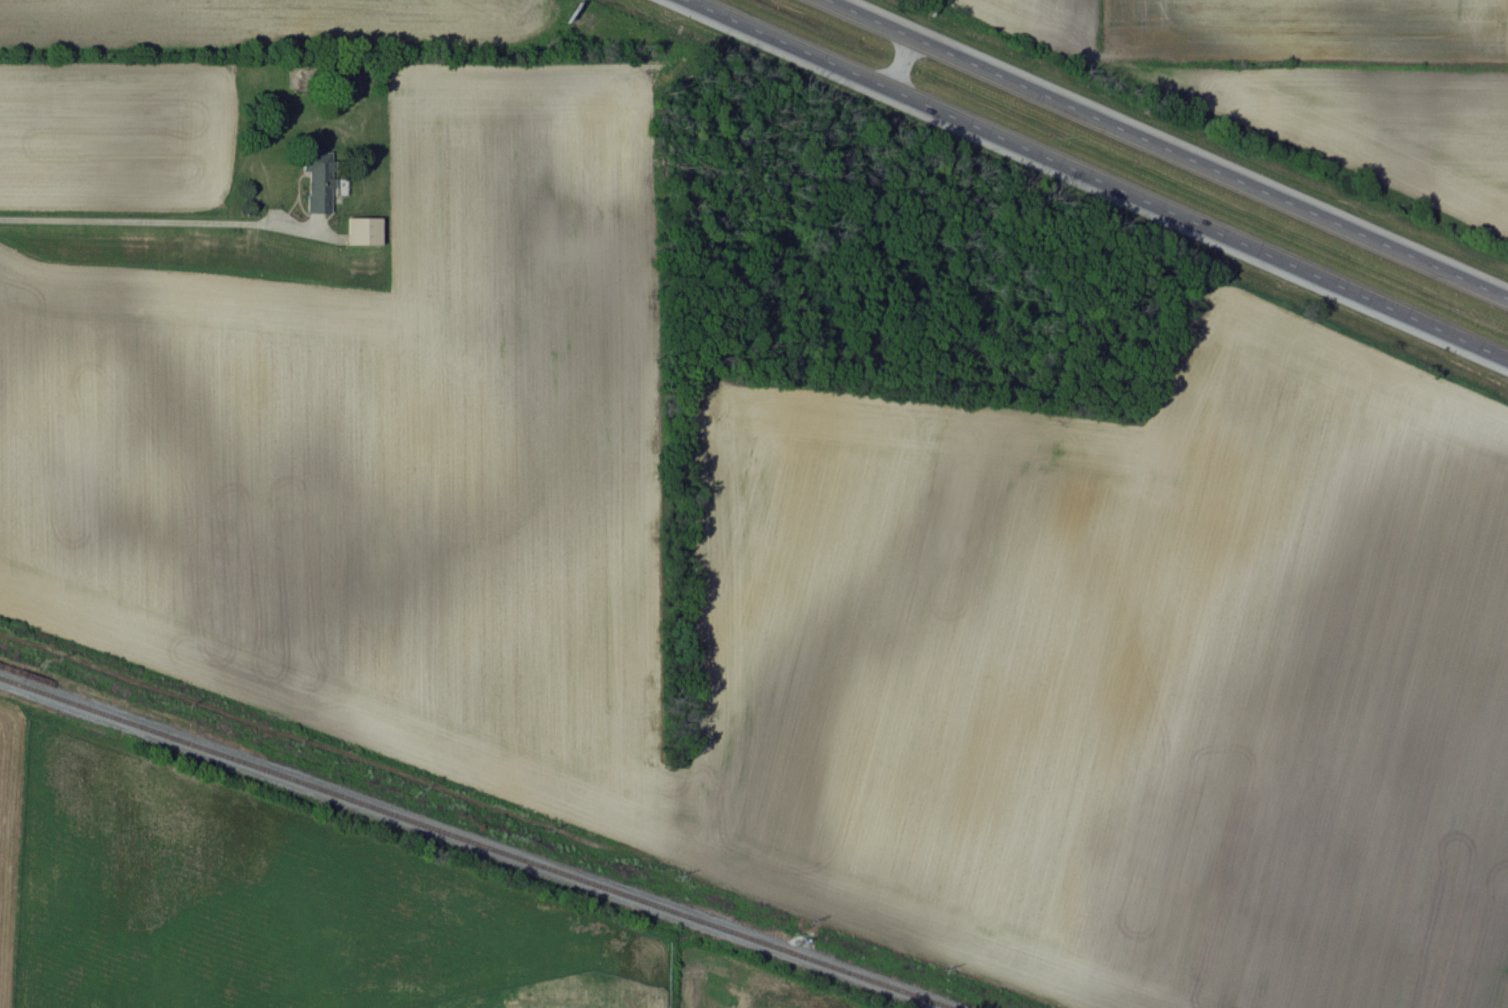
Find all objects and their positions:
road: (903, 65)
road: (1166, 148)
road: (1096, 179)
road: (151, 218)
railway: (469, 845)

